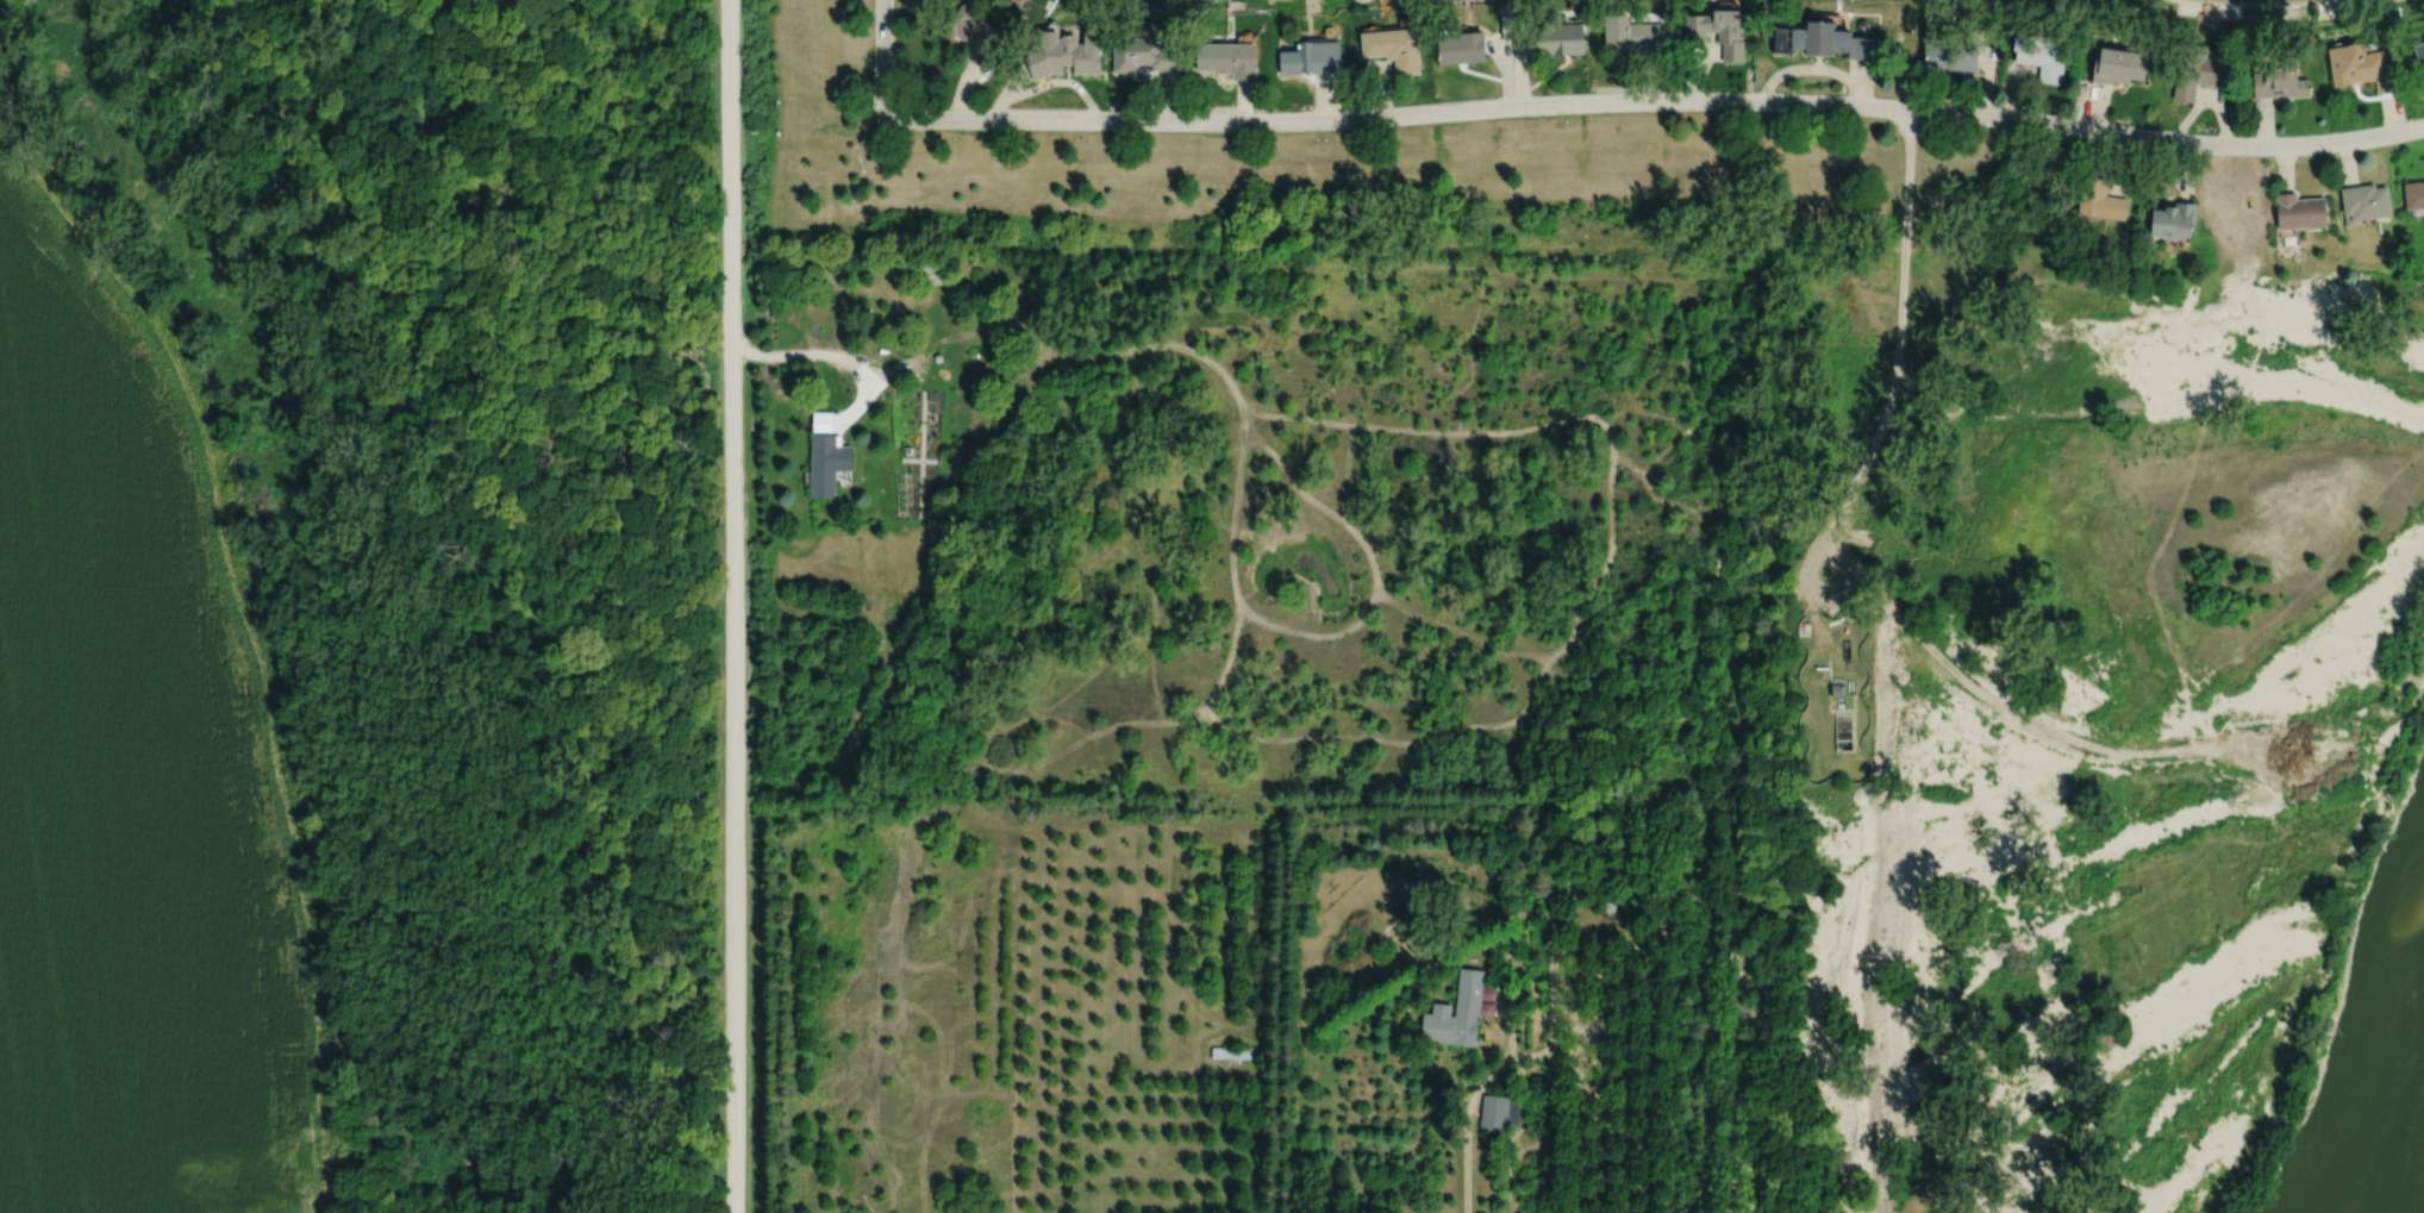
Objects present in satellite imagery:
building: (1504, 7)
building: (1570, 20)
building: (1406, 21)
building: (1863, 25)
building: (1636, 30)
building: (1719, 30)
building: (970, 35)
building: (1558, 35)
building: (1825, 39)
building: (1460, 44)
building: (1393, 48)
building: (1949, 50)
building: (2419, 52)
building: (1064, 54)
building: (1143, 54)
road: (882, 55)
building: (1226, 56)
building: (1308, 56)
building: (2041, 56)
building: (2118, 61)
building: (2360, 63)
building: (2200, 70)
building: (2279, 76)
road: (1656, 99)
street lamp: (1745, 112)
street lamp: (1561, 114)
street lamp: (1929, 121)
street lamp: (898, 130)
street lamp: (1320, 131)
street lamp: (1141, 132)
street lamp: (2145, 146)
street lamp: (2329, 152)
building: (2413, 193)
building: (2100, 198)
building: (2363, 200)
building: (2299, 208)
building: (2173, 218)
building: (936, 269)
road: (938, 342)
road: (836, 354)
building: (937, 356)
building: (1004, 358)
road: (1893, 379)
building: (821, 420)
building: (827, 462)
road: (731, 606)
building: (1837, 689)
crop: (129, 754)
building: (1610, 900)
building: (1644, 907)
building: (1488, 990)
building: (1487, 1006)
building: (1456, 1009)
building: (1231, 1050)
road: (1473, 1093)
building: (1499, 1109)
river: (2412, 1181)

